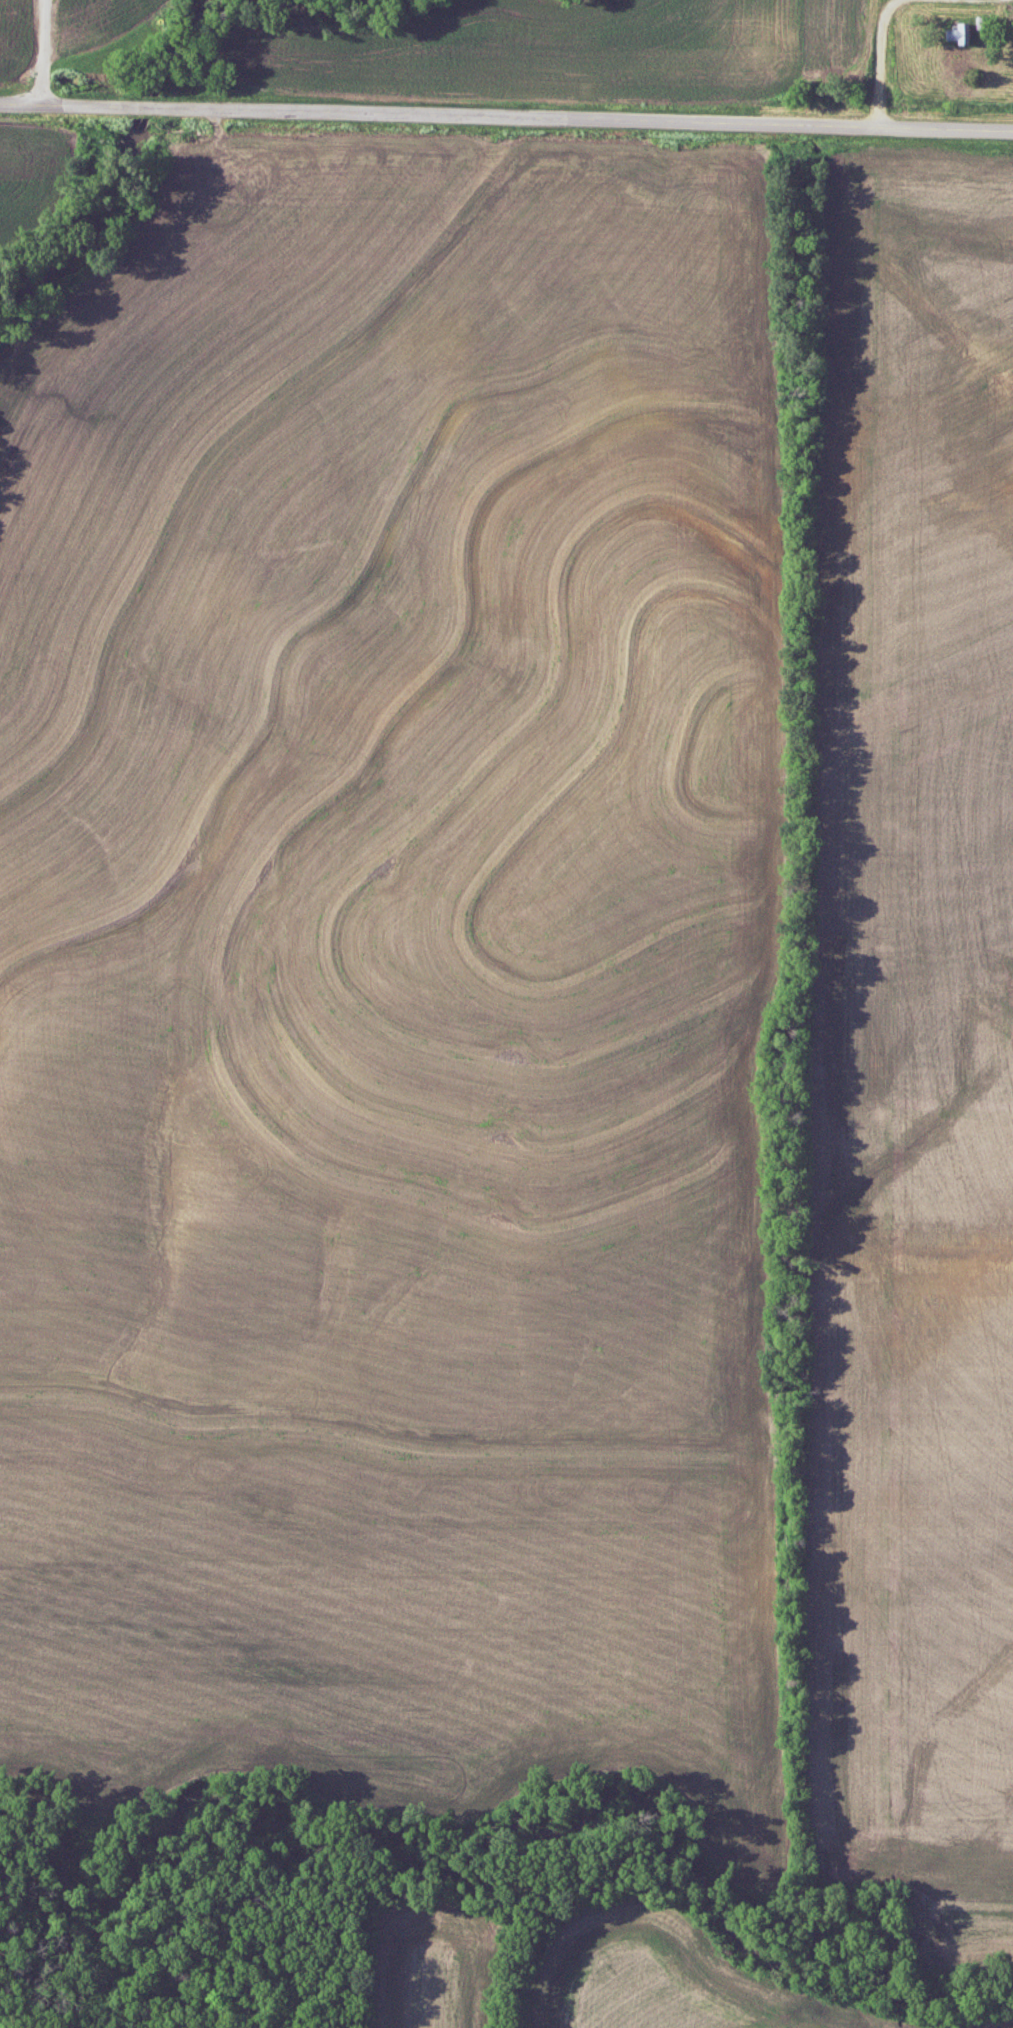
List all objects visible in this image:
road: (985, 2)
building: (979, 22)
building: (954, 33)
road: (43, 50)
road: (881, 60)
road: (506, 117)

